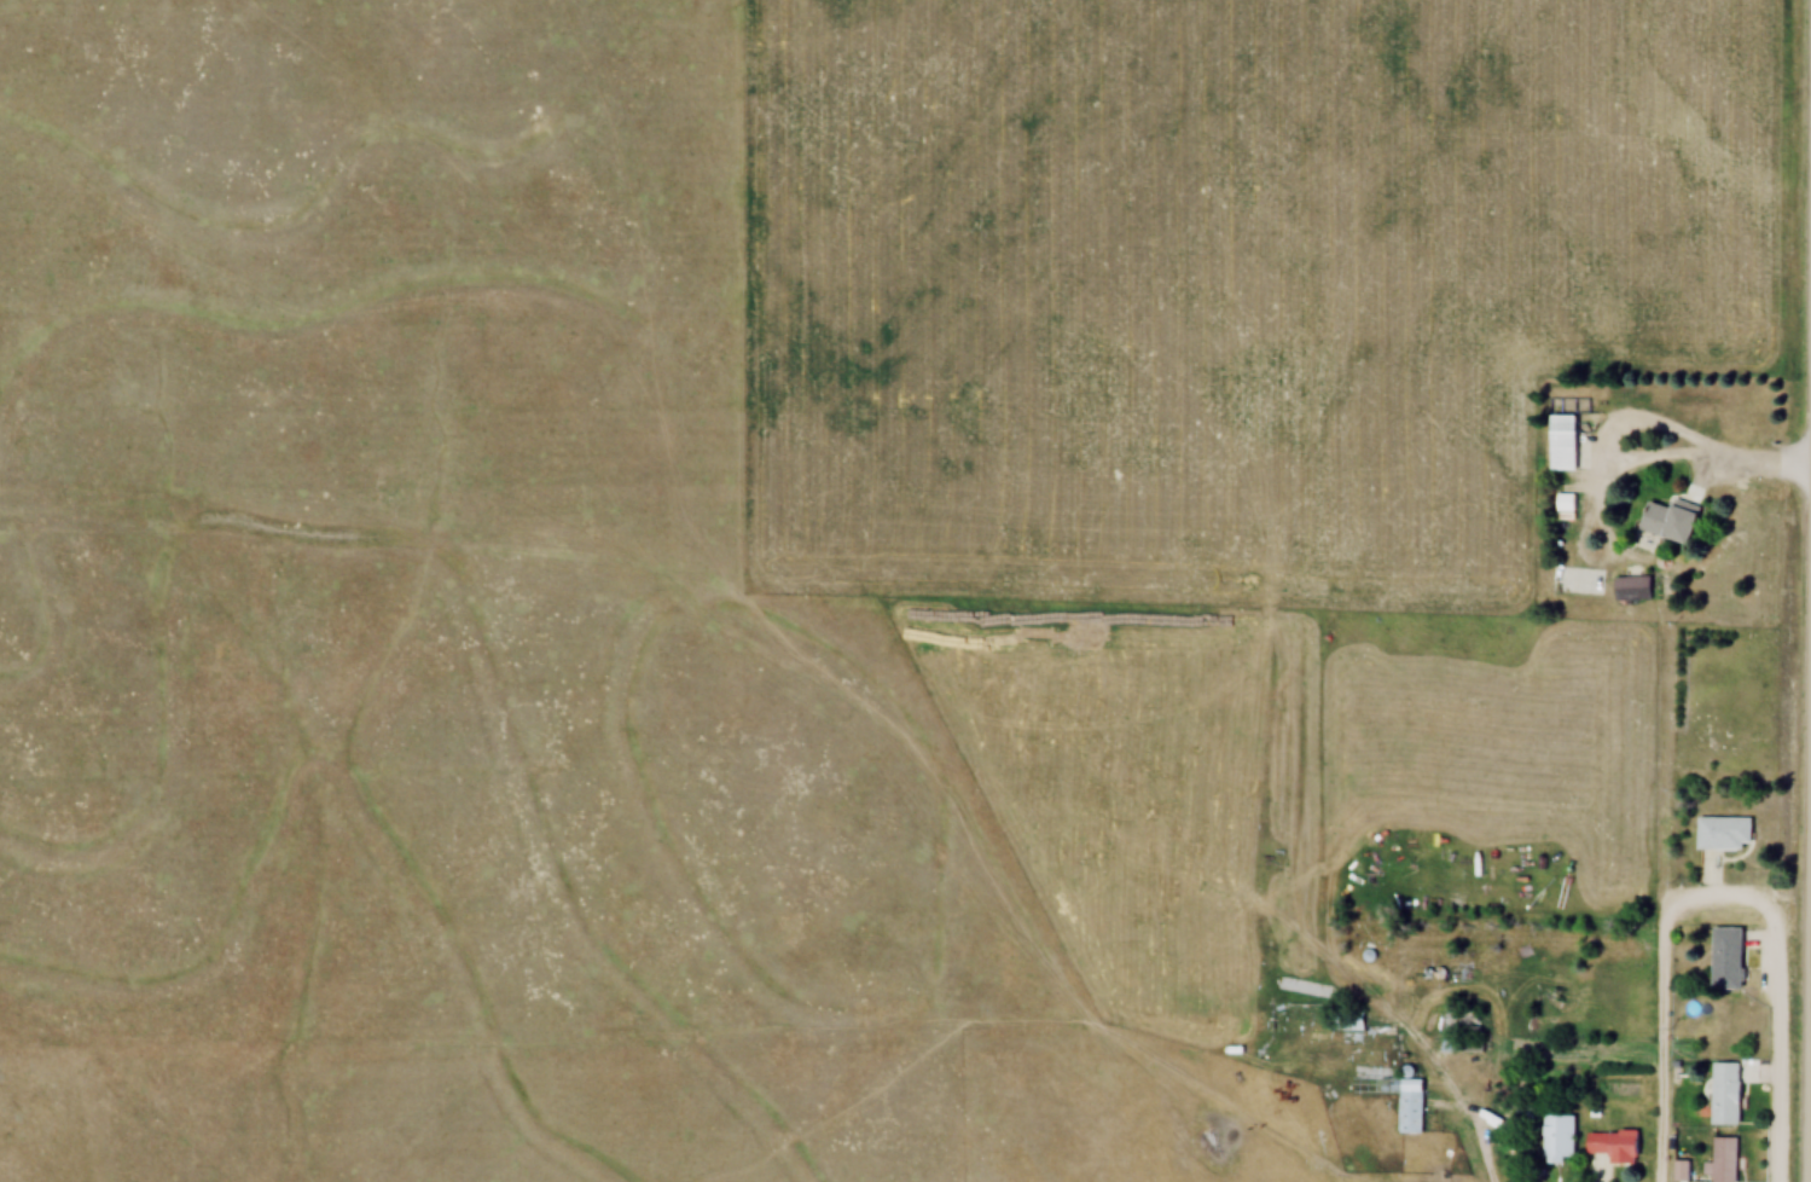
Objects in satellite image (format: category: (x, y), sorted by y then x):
road: (1601, 427)
building: (1565, 441)
road: (1761, 460)
building: (1566, 502)
building: (1671, 520)
building: (1631, 587)
building: (1725, 833)
building: (1728, 958)
road: (1656, 993)
road: (1810, 1006)
building: (1317, 1014)
building: (1462, 1022)
building: (1461, 1044)
road: (1772, 1048)
building: (1728, 1094)
building: (1407, 1102)
road: (1472, 1120)
building: (1558, 1138)
building: (1614, 1147)
building: (1724, 1159)
building: (1681, 1171)

